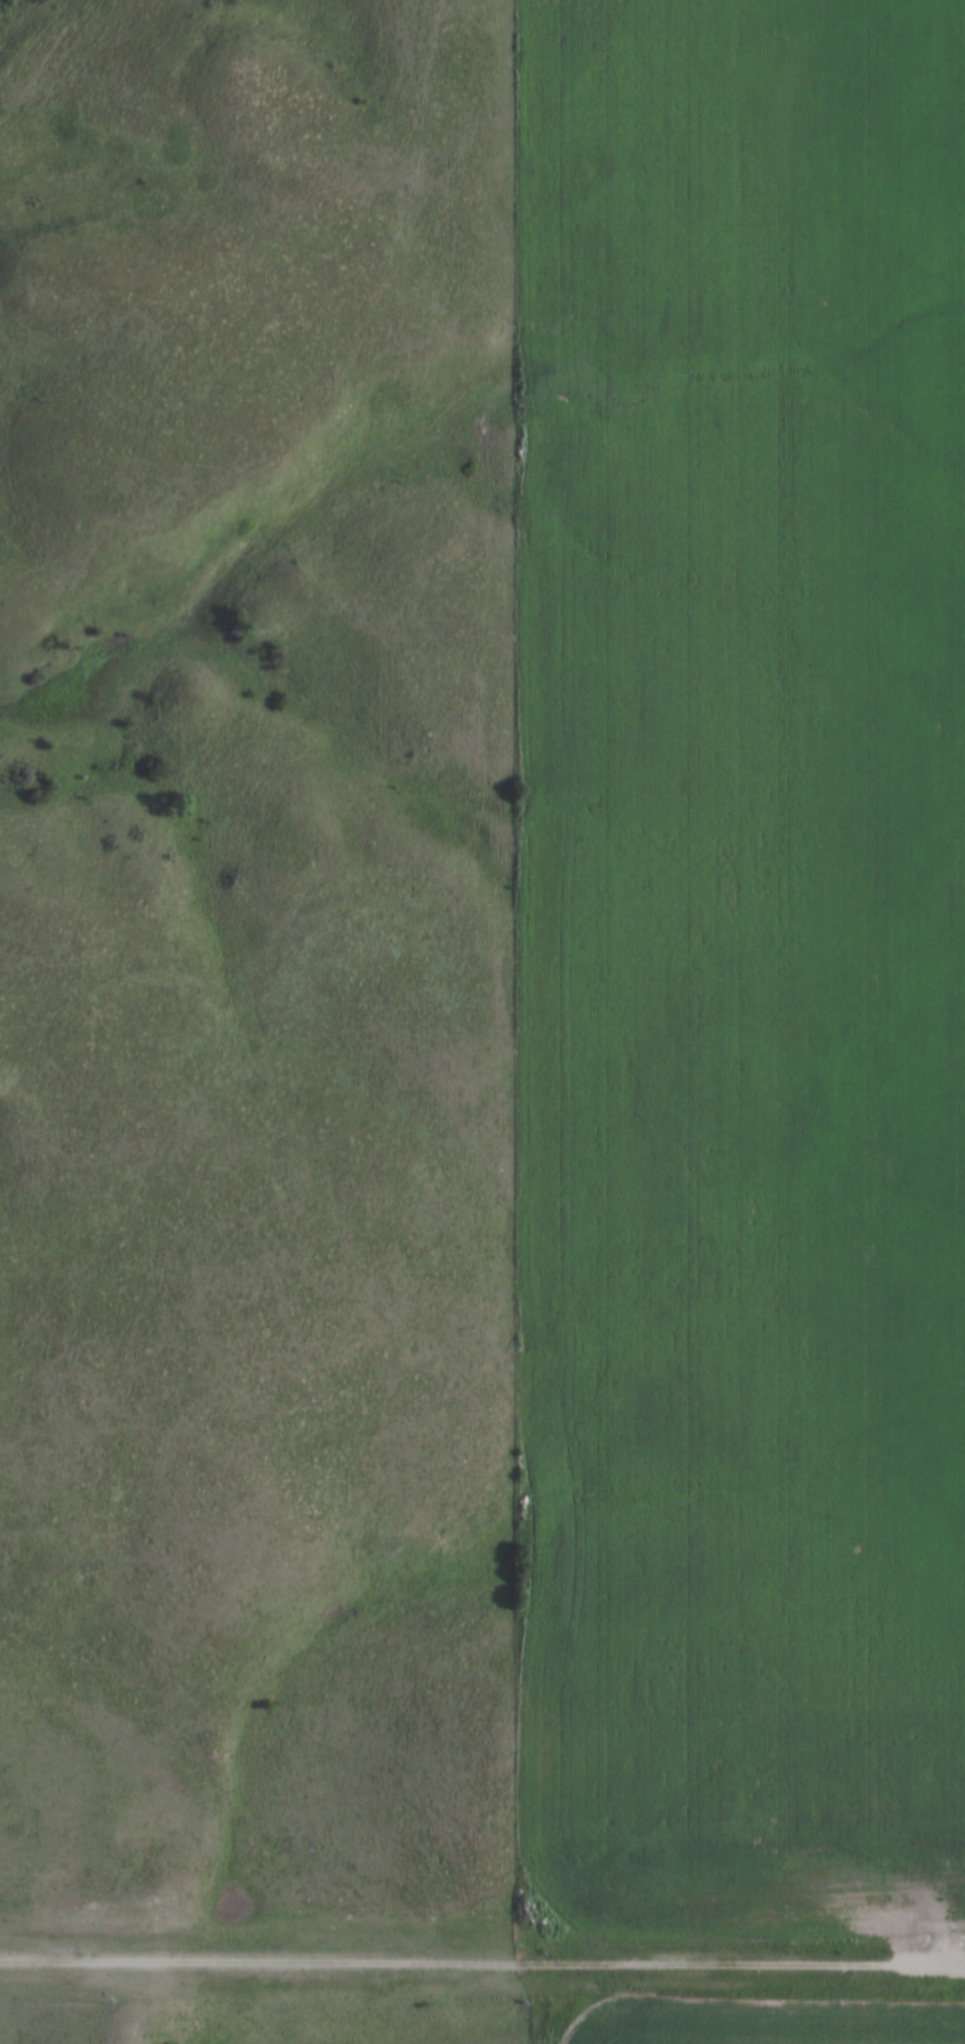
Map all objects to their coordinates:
road: (482, 1961)

